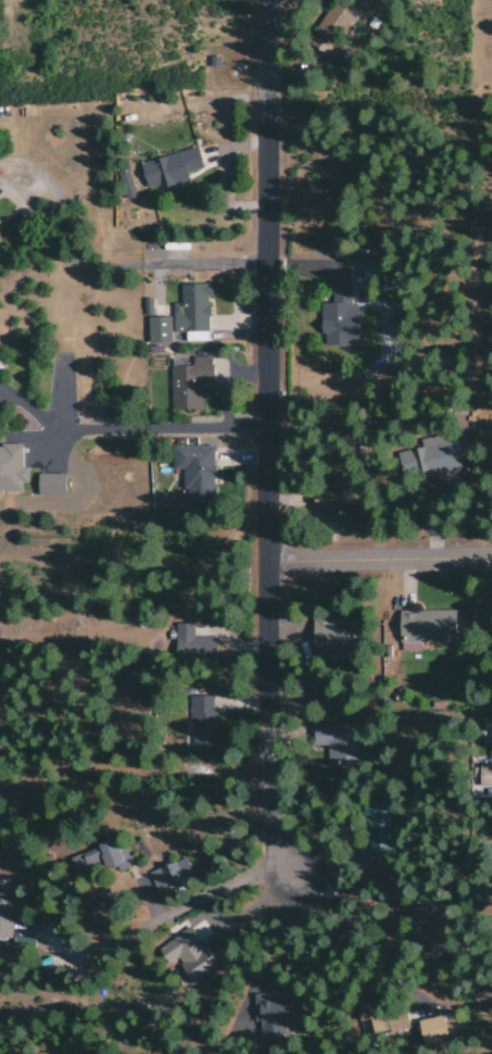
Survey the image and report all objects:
building: (333, 23)
road: (230, 104)
building: (168, 168)
building: (125, 185)
building: (147, 308)
building: (191, 313)
building: (338, 324)
building: (157, 330)
building: (189, 382)
road: (133, 428)
building: (431, 456)
building: (11, 467)
building: (194, 470)
building: (49, 484)
road: (269, 530)
road: (380, 544)
road: (173, 626)
building: (490, 638)
building: (333, 642)
building: (191, 643)
building: (200, 712)
building: (333, 741)
building: (487, 755)
building: (491, 845)
building: (100, 856)
building: (169, 874)
road: (227, 875)
building: (189, 955)
building: (272, 1018)
road: (419, 1026)
building: (430, 1028)

